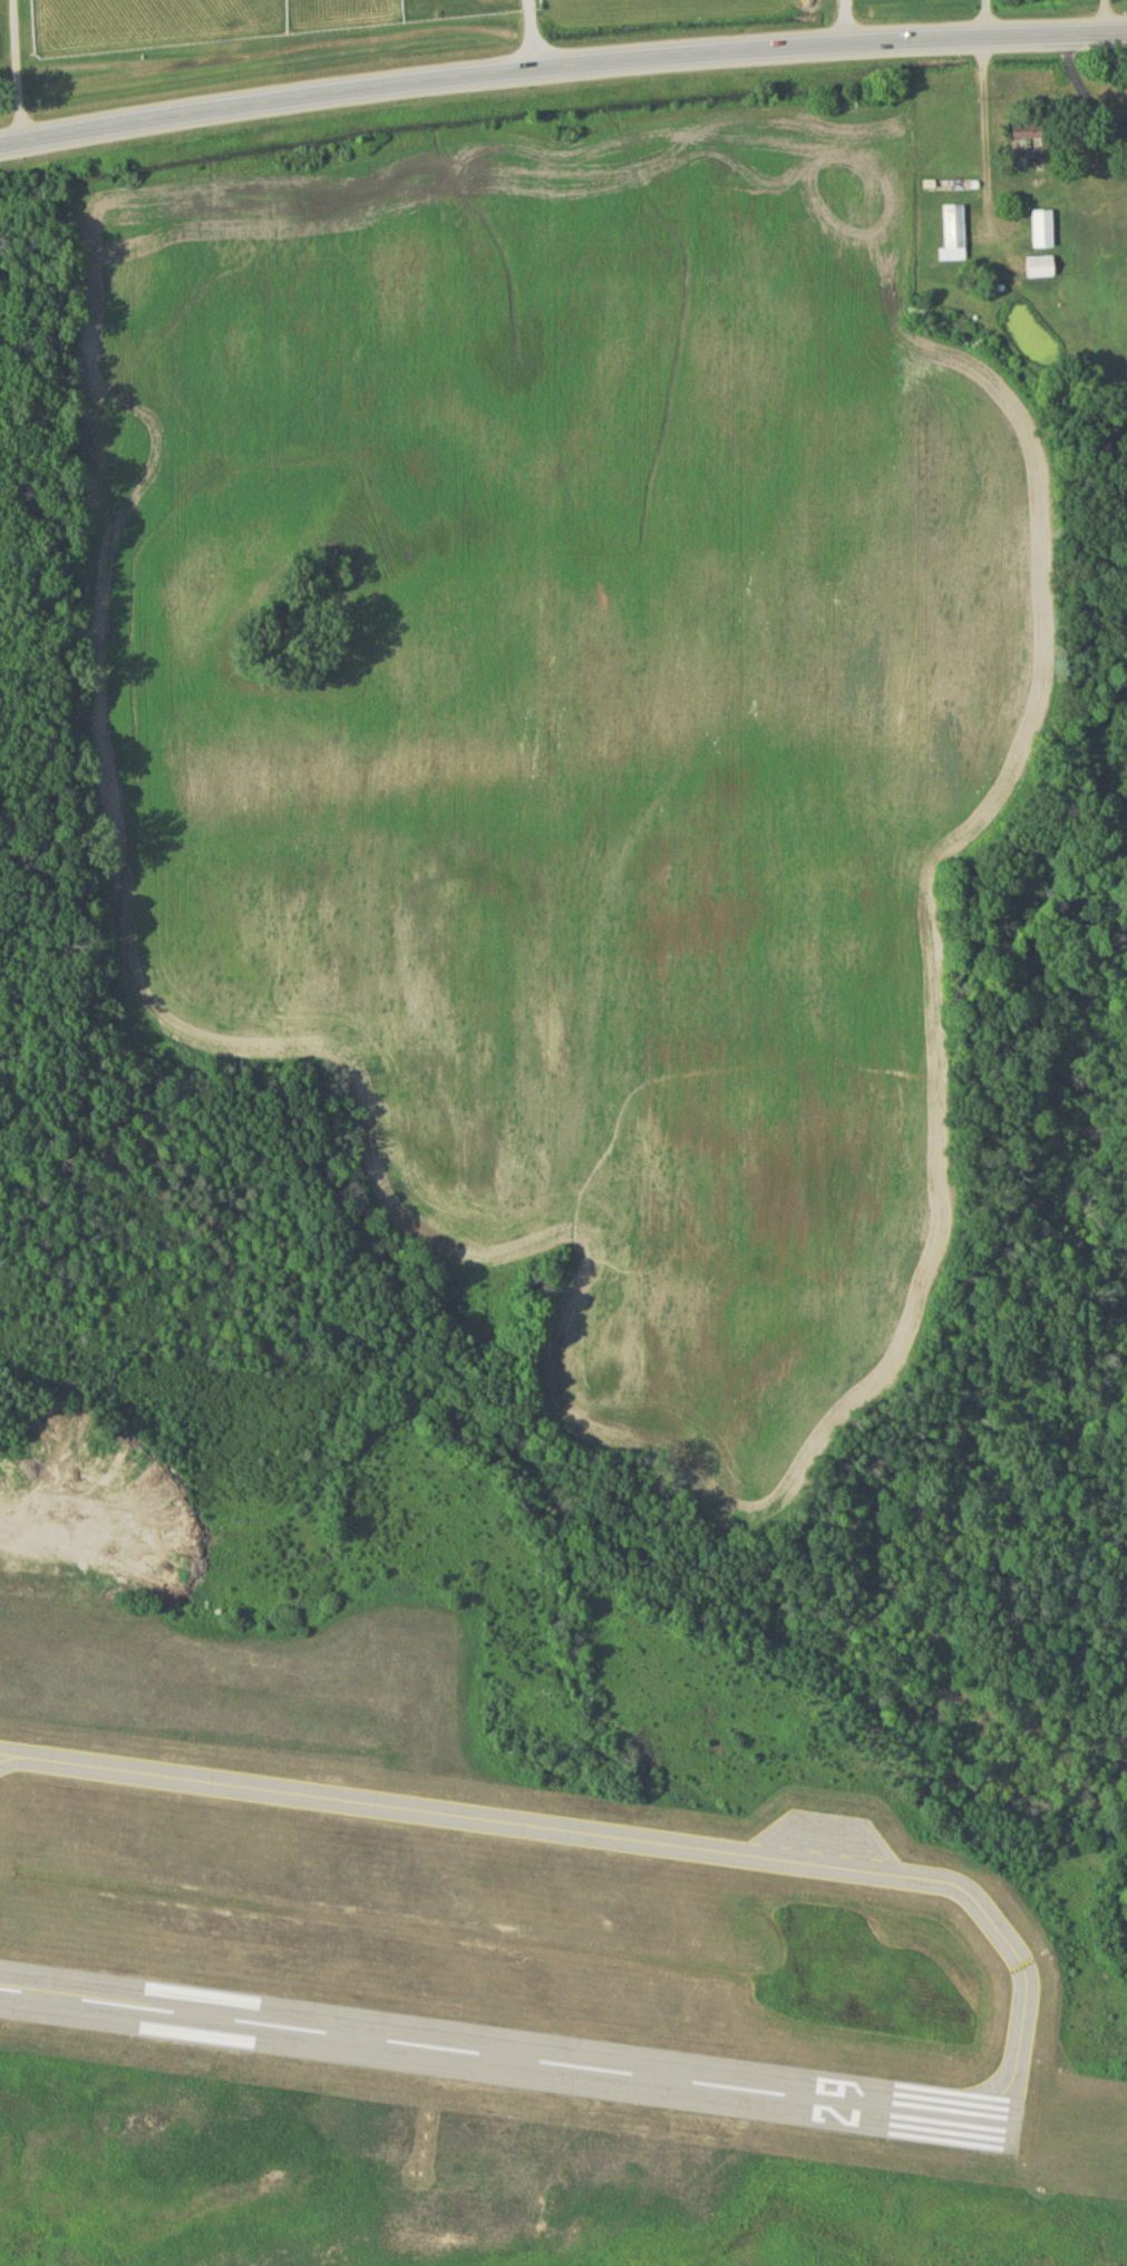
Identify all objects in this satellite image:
road: (1105, 18)
road: (535, 36)
road: (561, 68)
road: (18, 71)
road: (1087, 94)
building: (1111, 106)
road: (982, 134)
building: (1029, 143)
building: (1042, 234)
building: (954, 239)
building: (1040, 271)
airport taxiway: (611, 1840)
airport: (508, 1965)
airport runway: (503, 2062)

